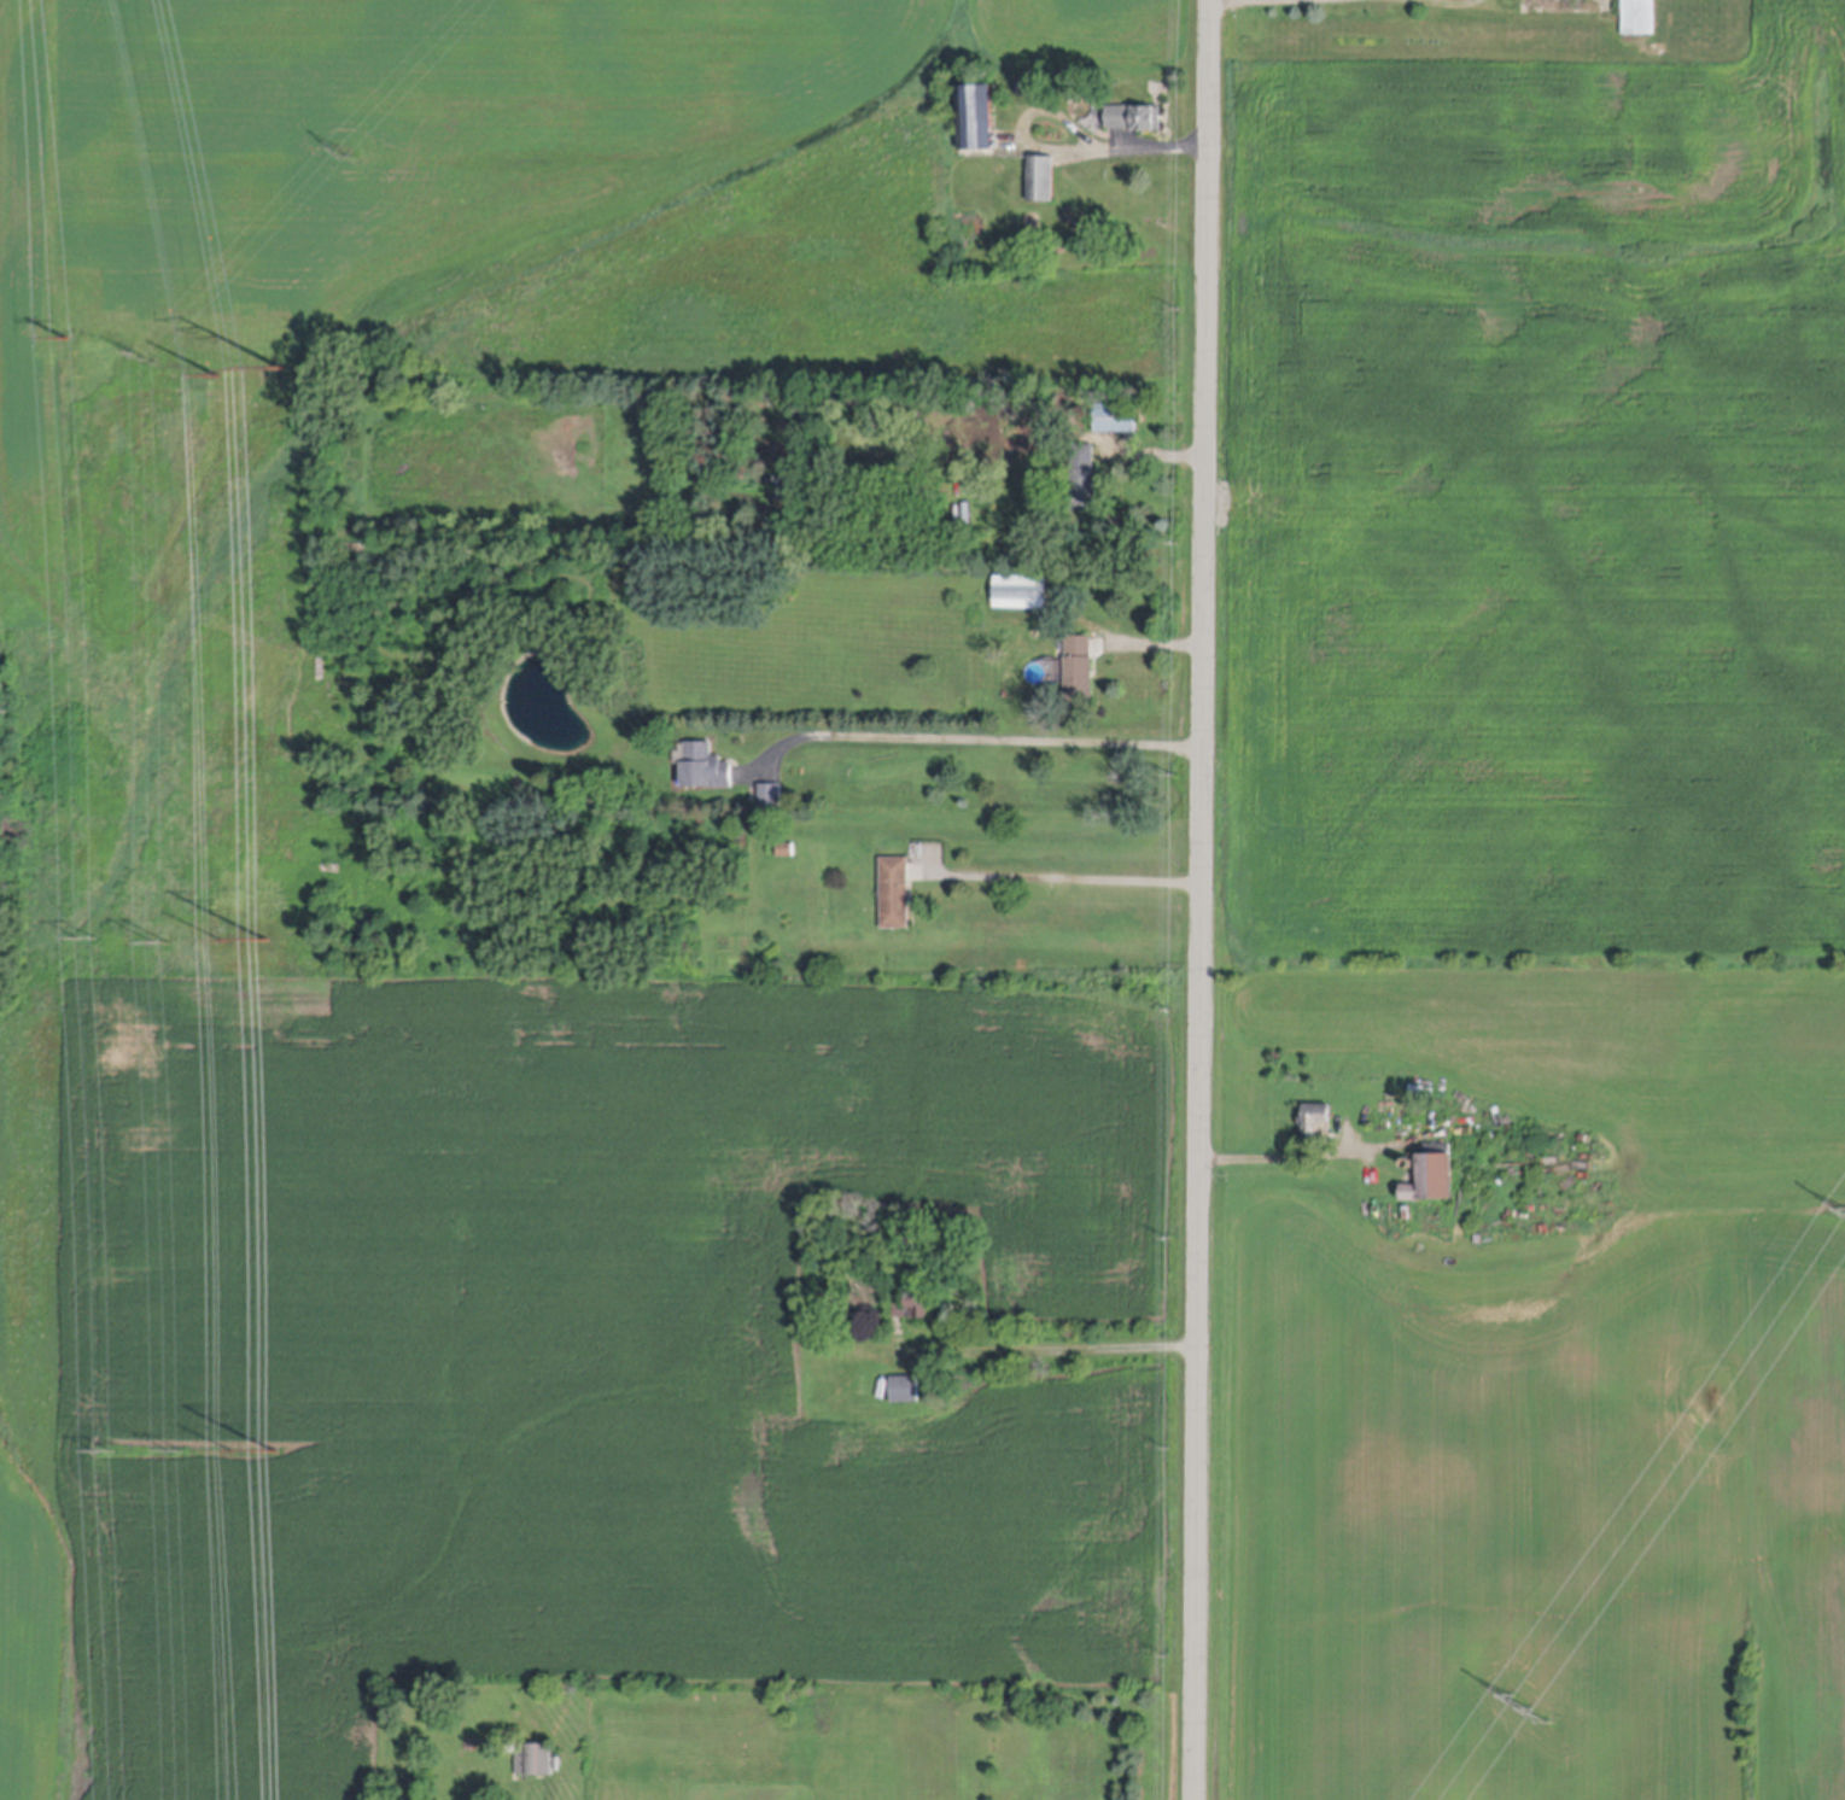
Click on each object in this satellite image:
building: (1639, 17)
building: (1026, 88)
building: (977, 119)
building: (1135, 119)
road: (1063, 146)
power tower: (340, 151)
building: (1041, 180)
power tower: (69, 344)
power tower: (144, 360)
power tower: (278, 369)
power tower: (211, 375)
building: (1116, 420)
road: (1157, 458)
building: (1082, 479)
building: (766, 481)
building: (787, 489)
building: (1021, 594)
building: (1080, 671)
road: (980, 734)
building: (706, 771)
building: (771, 797)
building: (786, 852)
road: (1069, 872)
building: (895, 895)
road: (1205, 900)
power tower: (214, 941)
power tower: (263, 941)
power tower: (88, 942)
power tower: (164, 947)
building: (1316, 1126)
road: (1300, 1157)
building: (1432, 1186)
building: (1407, 1215)
building: (916, 1308)
building: (846, 1311)
road: (1049, 1350)
building: (905, 1391)
power tower: (226, 1451)
power tower: (273, 1451)
power tower: (177, 1454)
power tower: (106, 1455)
power tower: (1530, 1706)
road: (1530, 1706)
building: (513, 1741)
building: (537, 1752)

